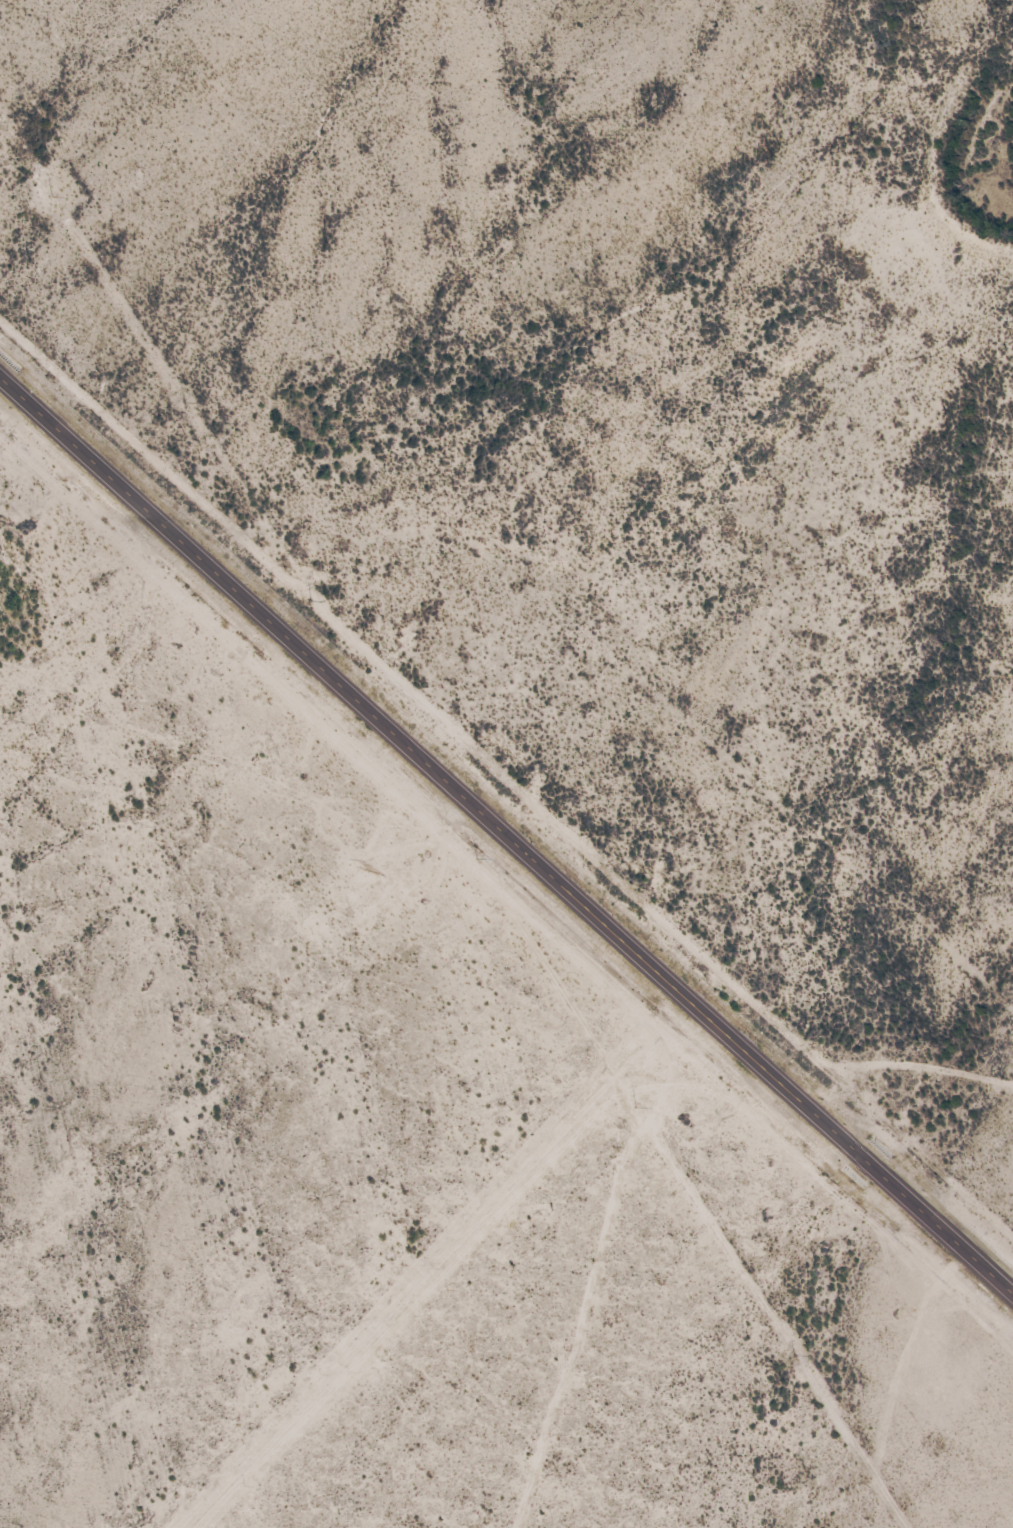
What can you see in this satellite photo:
road: (507, 836)
road: (650, 1206)

